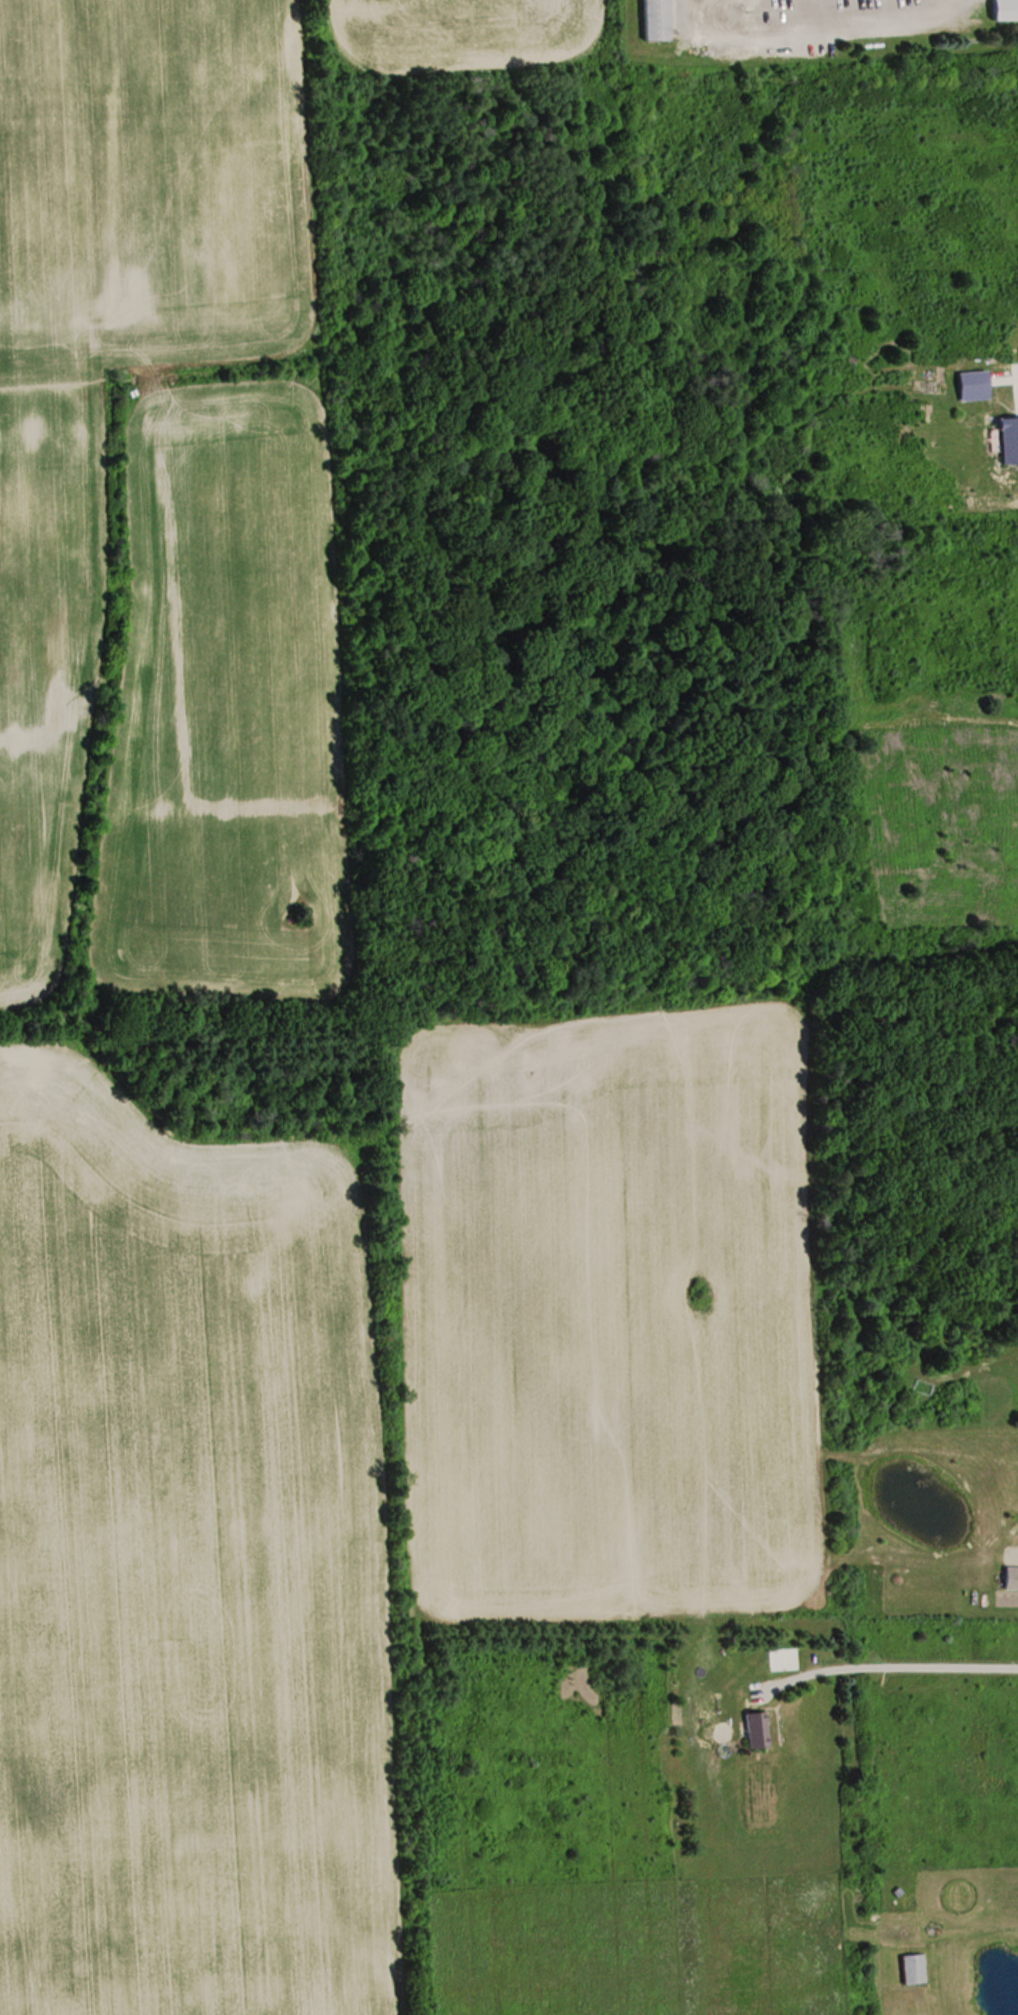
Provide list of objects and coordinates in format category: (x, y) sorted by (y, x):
building: (1005, 10)
building: (655, 20)
road: (830, 24)
building: (756, 1730)
building: (913, 1969)

